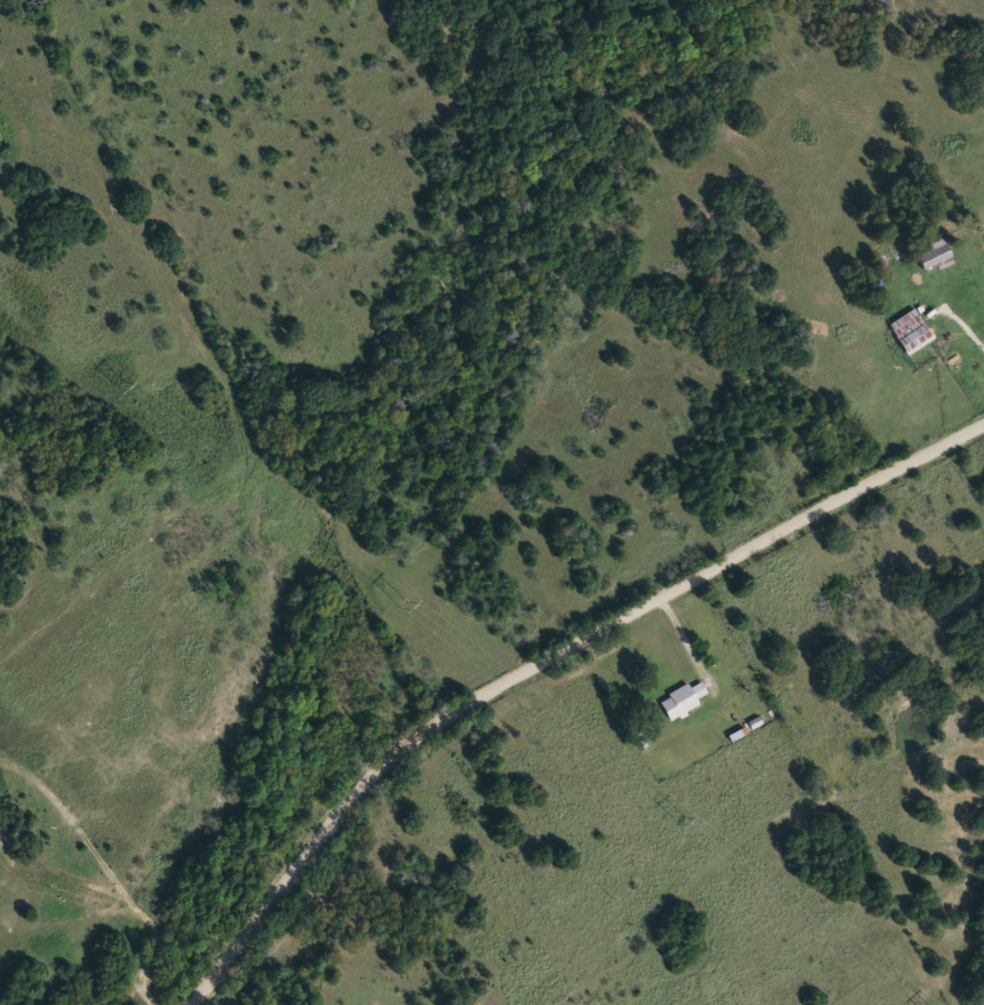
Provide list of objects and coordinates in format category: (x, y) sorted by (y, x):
building: (945, 256)
road: (544, 655)
road: (717, 694)
building: (683, 699)

